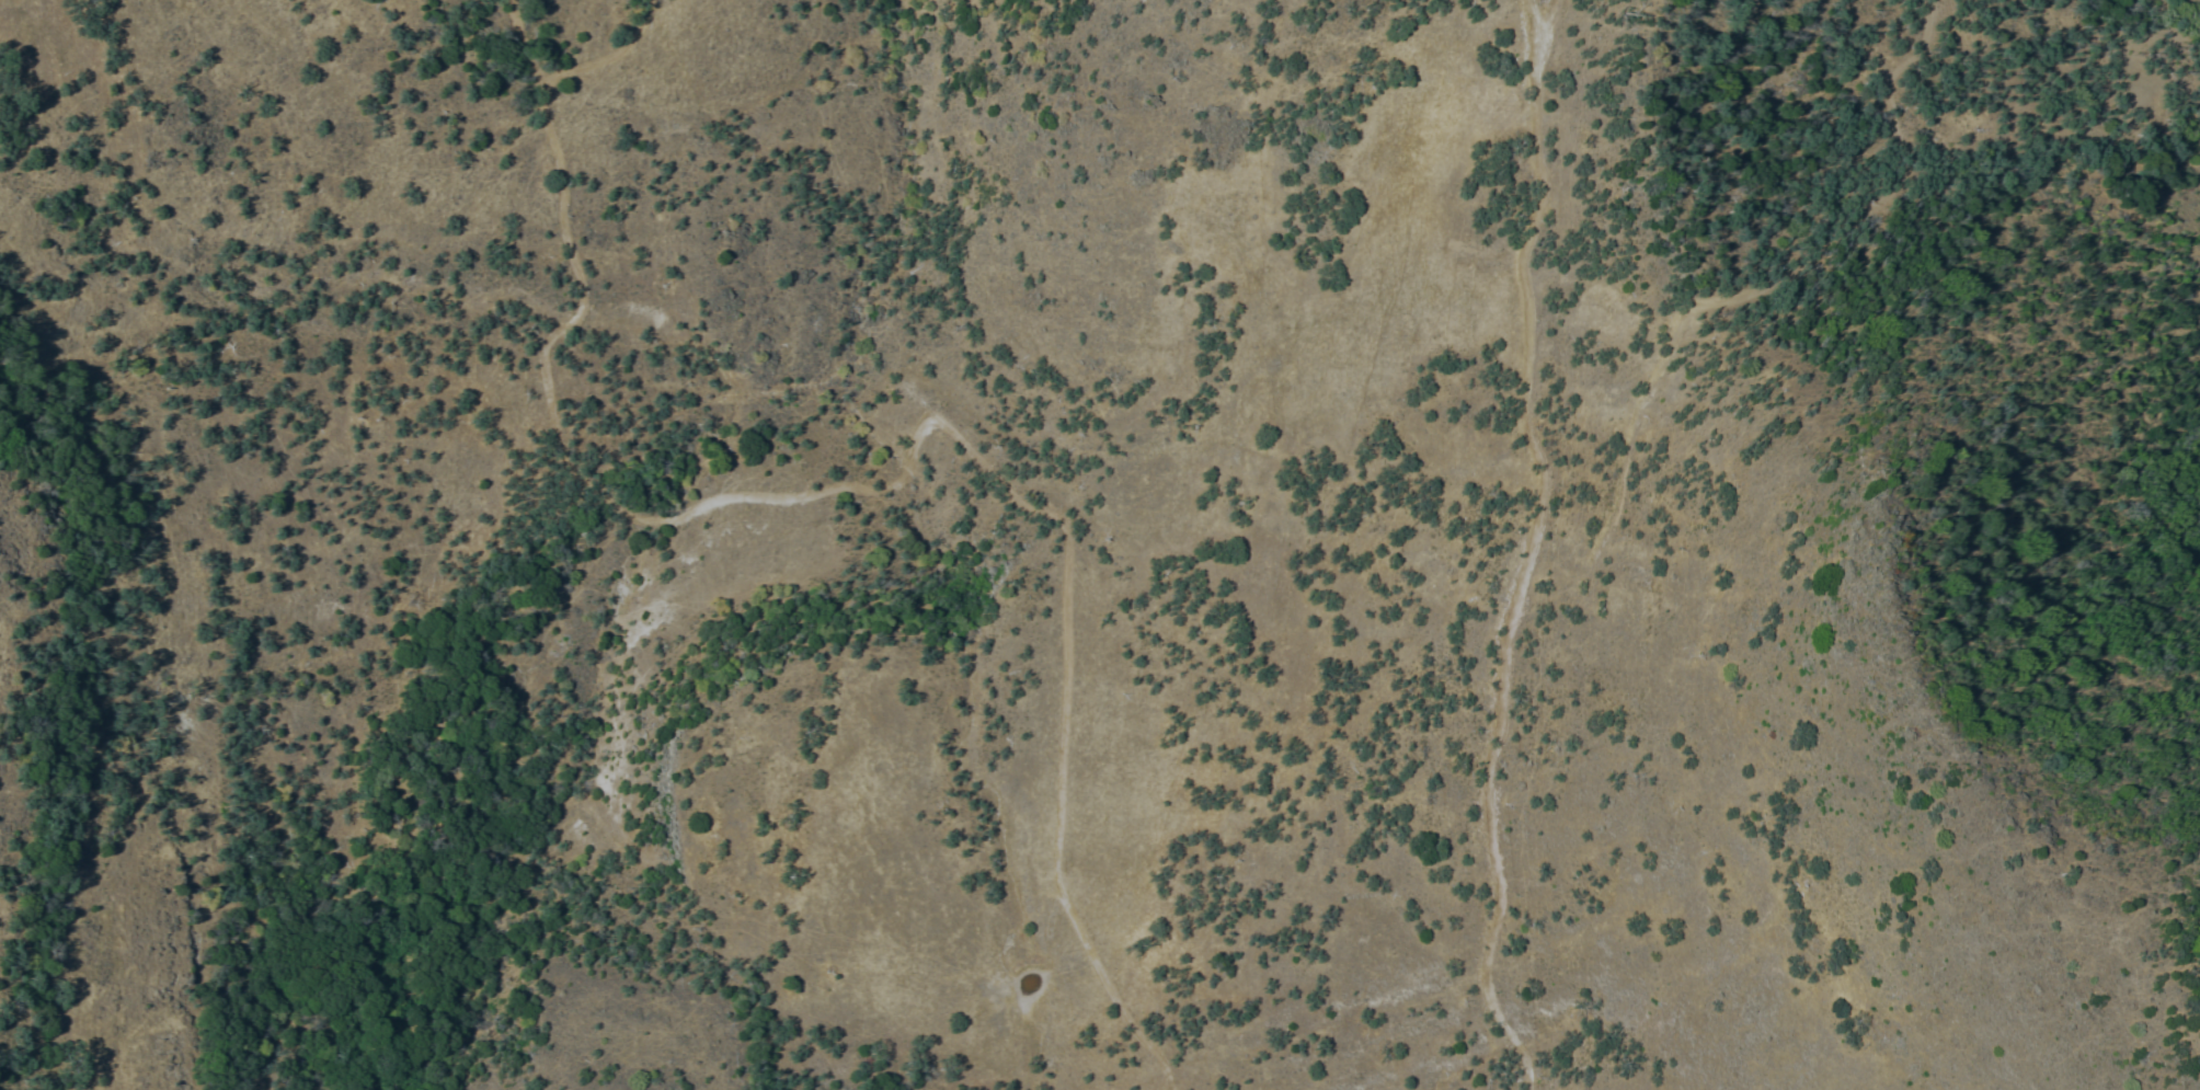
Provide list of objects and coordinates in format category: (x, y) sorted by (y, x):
road: (534, 83)
road: (1879, 156)
road: (1649, 386)
road: (938, 423)
road: (1529, 546)

